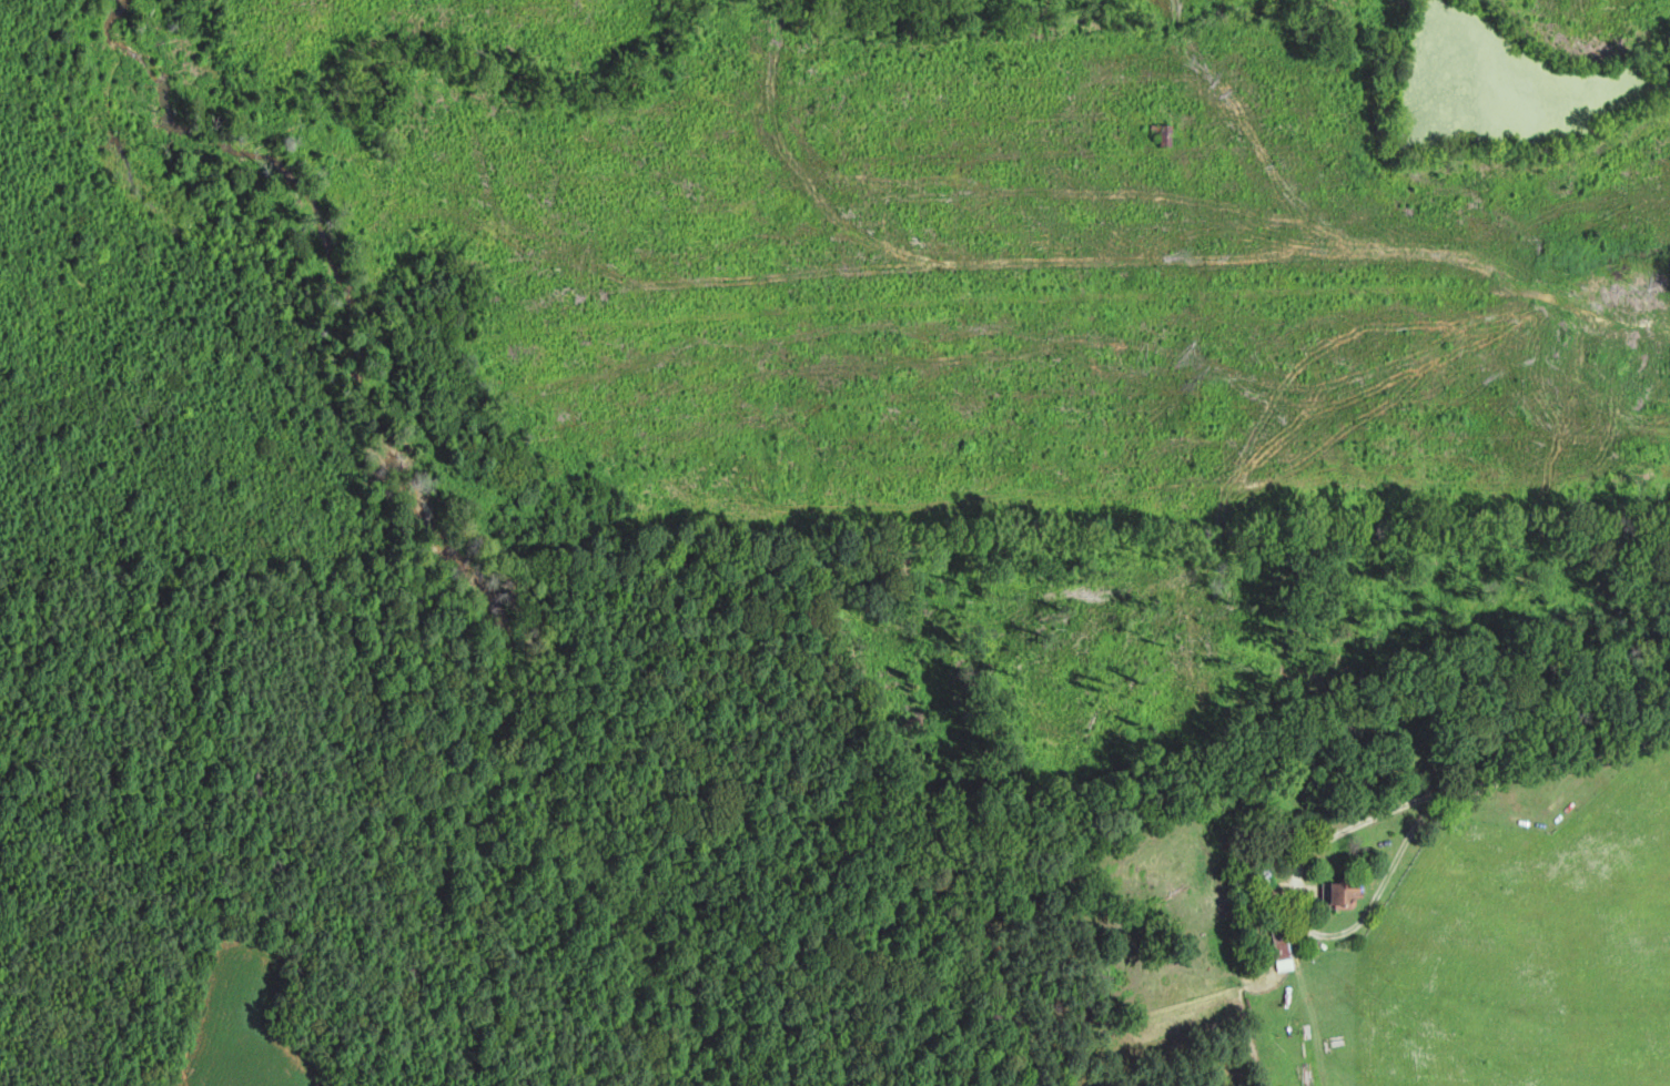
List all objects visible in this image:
building: (1347, 895)

